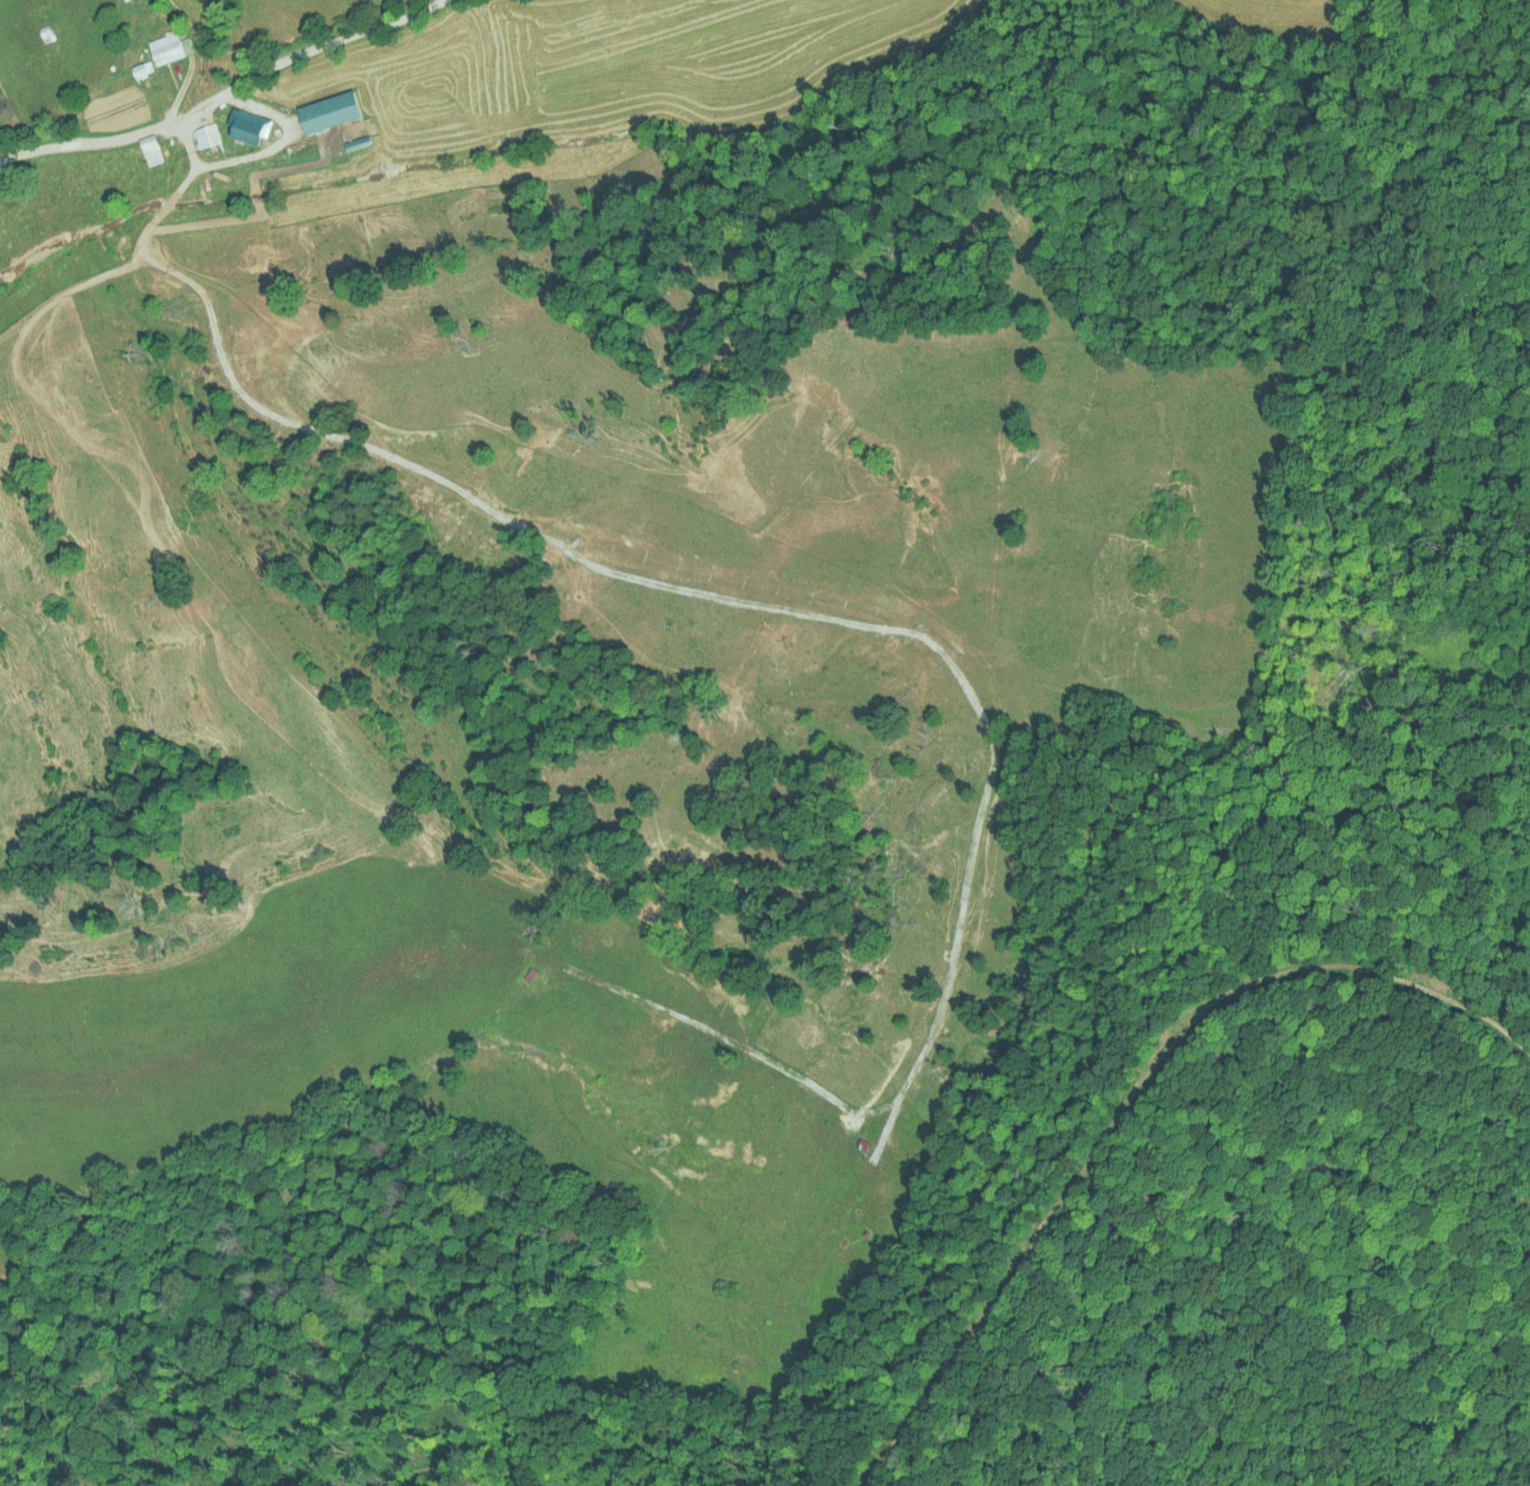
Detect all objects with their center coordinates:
building: (166, 48)
building: (140, 71)
road: (222, 92)
building: (248, 131)
building: (206, 136)
road: (266, 149)
building: (150, 150)
road: (855, 623)

